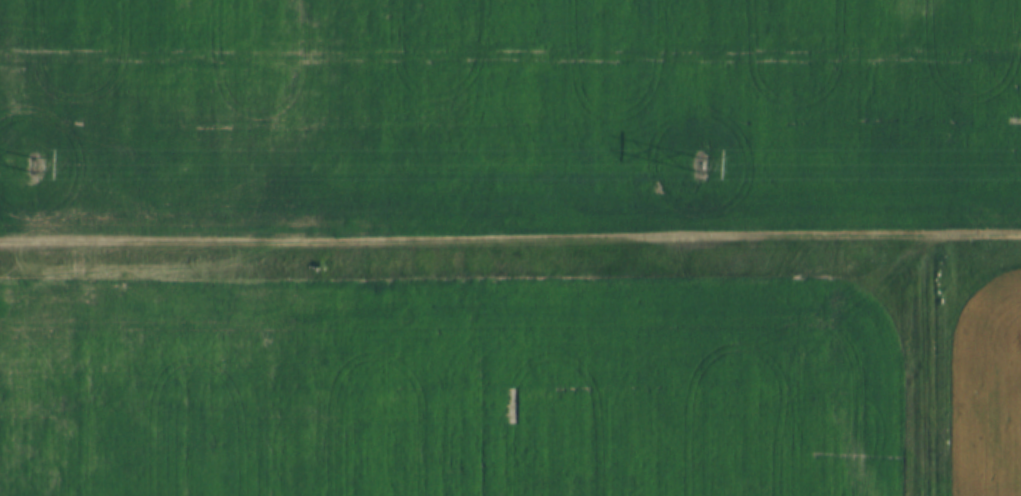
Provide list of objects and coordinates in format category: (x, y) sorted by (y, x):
power tower: (28, 160)
power tower: (698, 162)
road: (510, 237)

